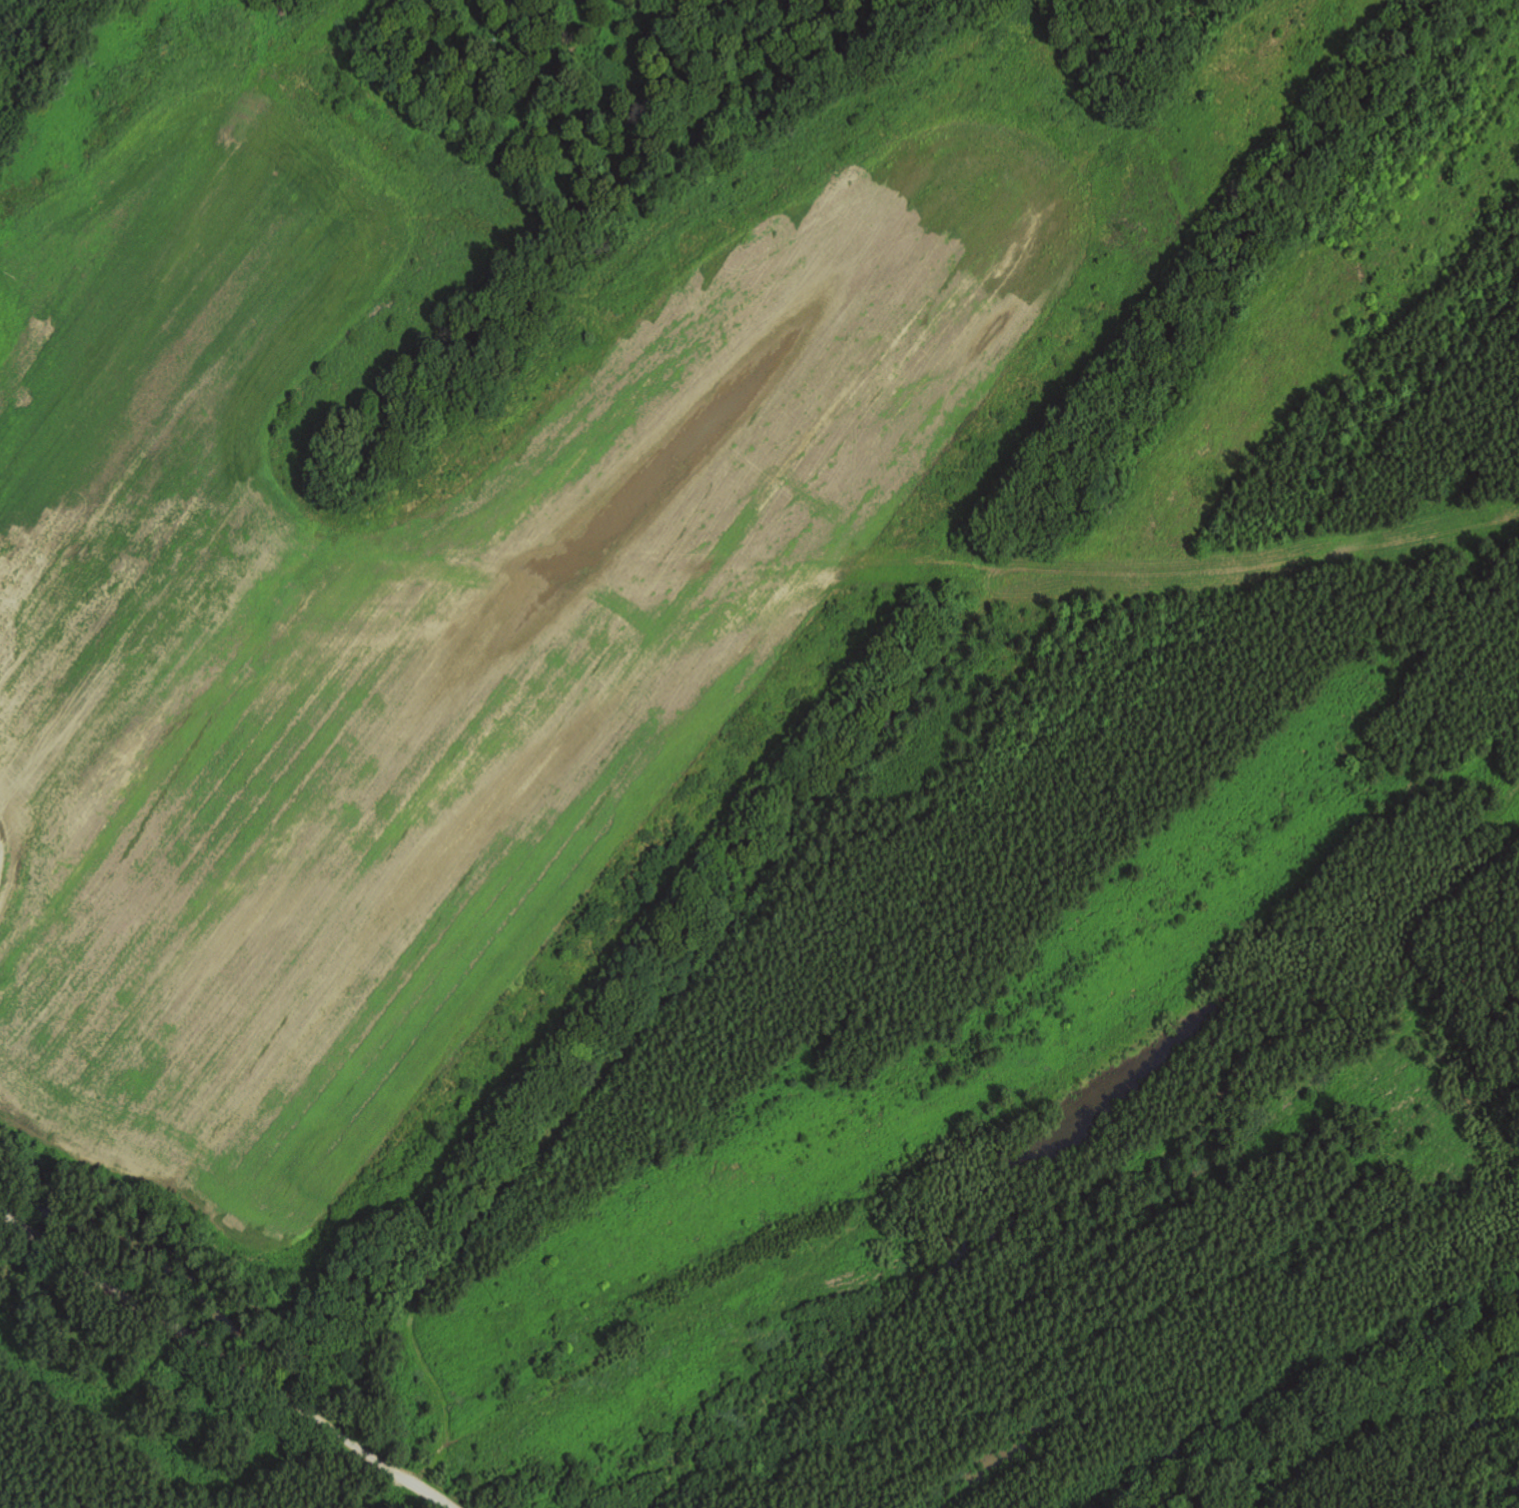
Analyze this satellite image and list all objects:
road: (222, 1360)

